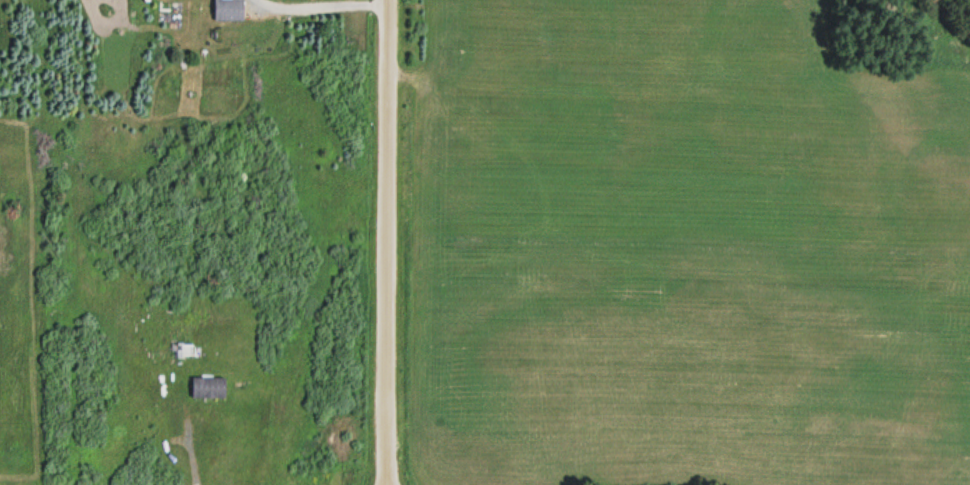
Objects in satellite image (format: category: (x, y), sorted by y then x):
building: (228, 11)
road: (386, 242)
building: (206, 386)

